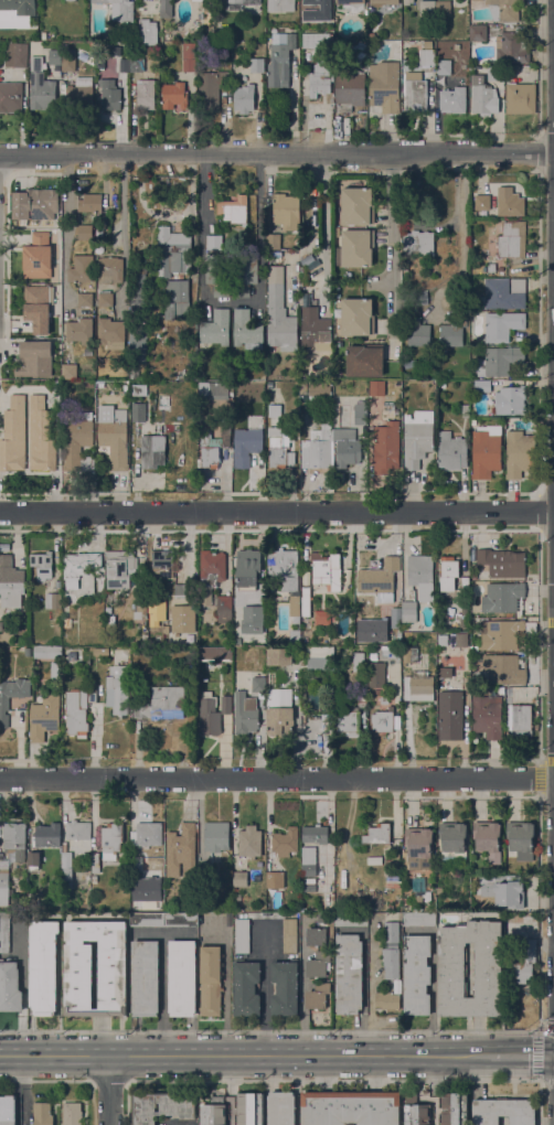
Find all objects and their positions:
building: (70, 0)
building: (198, 0)
building: (408, 0)
building: (383, 2)
building: (241, 3)
building: (352, 4)
building: (280, 6)
building: (166, 8)
building: (427, 8)
building: (443, 8)
building: (15, 9)
building: (118, 9)
building: (317, 10)
building: (504, 10)
building: (147, 31)
building: (478, 33)
building: (46, 35)
building: (316, 40)
building: (32, 44)
building: (428, 44)
building: (511, 47)
building: (360, 51)
building: (15, 54)
building: (189, 56)
building: (427, 56)
building: (54, 57)
building: (280, 60)
building: (68, 62)
building: (136, 64)
building: (257, 65)
building: (443, 66)
building: (477, 67)
building: (512, 68)
building: (124, 71)
building: (494, 73)
building: (100, 74)
building: (320, 81)
building: (385, 86)
building: (41, 87)
building: (211, 89)
building: (350, 89)
building: (416, 92)
building: (145, 94)
building: (79, 95)
building: (174, 95)
building: (110, 96)
building: (11, 97)
building: (483, 97)
building: (521, 98)
building: (244, 99)
building: (454, 99)
road: (277, 156)
building: (502, 202)
building: (90, 203)
building: (35, 204)
building: (358, 205)
building: (234, 208)
building: (286, 210)
road: (122, 229)
building: (85, 232)
road: (67, 233)
building: (512, 239)
building: (214, 242)
building: (273, 242)
building: (419, 244)
building: (355, 248)
road: (392, 251)
building: (172, 253)
road: (201, 255)
building: (38, 256)
building: (82, 269)
building: (110, 269)
building: (217, 274)
building: (305, 275)
building: (244, 277)
building: (138, 288)
building: (502, 294)
building: (178, 297)
building: (105, 298)
building: (85, 299)
building: (38, 308)
building: (358, 317)
building: (280, 320)
building: (502, 325)
building: (216, 328)
building: (247, 330)
building: (315, 330)
building: (81, 331)
building: (417, 331)
building: (452, 332)
building: (111, 333)
building: (138, 342)
building: (35, 358)
building: (365, 360)
building: (500, 361)
building: (70, 371)
building: (135, 373)
building: (405, 375)
building: (398, 383)
building: (88, 384)
building: (441, 384)
building: (482, 386)
building: (377, 388)
building: (138, 389)
building: (210, 390)
building: (320, 390)
building: (510, 400)
building: (466, 410)
building: (138, 411)
building: (275, 414)
building: (361, 414)
building: (13, 436)
building: (41, 436)
building: (115, 437)
building: (417, 438)
building: (77, 440)
building: (214, 444)
building: (246, 446)
building: (318, 446)
building: (347, 447)
building: (386, 447)
building: (152, 451)
building: (451, 451)
building: (486, 451)
building: (277, 453)
building: (520, 453)
road: (277, 512)
building: (502, 562)
building: (162, 564)
building: (42, 565)
building: (284, 567)
building: (120, 568)
building: (247, 568)
building: (327, 569)
building: (81, 572)
building: (449, 574)
building: (422, 576)
building: (379, 577)
building: (213, 580)
building: (10, 582)
building: (465, 582)
building: (99, 587)
building: (184, 590)
building: (503, 598)
building: (306, 600)
building: (53, 601)
building: (139, 603)
building: (294, 606)
building: (155, 607)
building: (465, 610)
building: (408, 611)
building: (399, 617)
building: (182, 618)
building: (224, 618)
building: (322, 618)
building: (253, 619)
building: (473, 622)
building: (464, 623)
building: (66, 625)
building: (439, 625)
building: (152, 628)
building: (501, 634)
building: (295, 636)
building: (305, 636)
building: (157, 639)
building: (461, 640)
building: (372, 649)
building: (441, 649)
building: (102, 650)
building: (262, 650)
building: (28, 651)
building: (47, 653)
building: (215, 653)
building: (411, 654)
building: (279, 656)
building: (373, 656)
building: (319, 657)
building: (359, 661)
building: (502, 669)
building: (55, 672)
building: (376, 675)
building: (41, 682)
building: (418, 686)
building: (117, 689)
building: (501, 690)
building: (362, 694)
building: (92, 696)
building: (4, 704)
building: (162, 704)
building: (225, 705)
building: (251, 707)
building: (279, 711)
building: (210, 715)
building: (44, 716)
building: (75, 716)
building: (450, 716)
building: (487, 716)
building: (519, 719)
building: (348, 720)
building: (382, 721)
building: (326, 722)
road: (277, 780)
building: (77, 829)
building: (147, 834)
building: (315, 834)
building: (377, 834)
building: (47, 835)
building: (216, 836)
building: (14, 837)
building: (488, 839)
building: (521, 839)
building: (111, 840)
building: (454, 840)
building: (249, 842)
building: (285, 842)
building: (418, 848)
building: (181, 851)
building: (33, 860)
building: (95, 861)
building: (308, 861)
building: (395, 861)
building: (387, 863)
building: (138, 864)
building: (66, 869)
building: (387, 870)
building: (452, 875)
building: (239, 879)
building: (275, 879)
building: (476, 880)
building: (3, 881)
building: (439, 890)
building: (503, 893)
building: (417, 899)
building: (405, 901)
building: (324, 918)
building: (419, 919)
building: (163, 920)
building: (351, 920)
building: (391, 932)
building: (4, 935)
building: (242, 935)
building: (290, 935)
building: (317, 936)
building: (391, 962)
building: (522, 962)
building: (318, 964)
building: (43, 967)
building: (488, 969)
building: (349, 974)
building: (417, 974)
building: (78, 976)
building: (145, 977)
building: (182, 977)
building: (211, 981)
building: (285, 985)
building: (10, 987)
building: (245, 987)
road: (267, 989)
road: (225, 992)
building: (316, 999)
building: (387, 1000)
road: (245, 1054)
road: (522, 1056)
road: (109, 1090)
building: (161, 1105)
building: (351, 1107)
building: (249, 1108)
building: (281, 1108)
building: (435, 1108)
building: (8, 1110)
building: (503, 1111)
building: (42, 1114)
building: (72, 1114)
building: (214, 1114)

